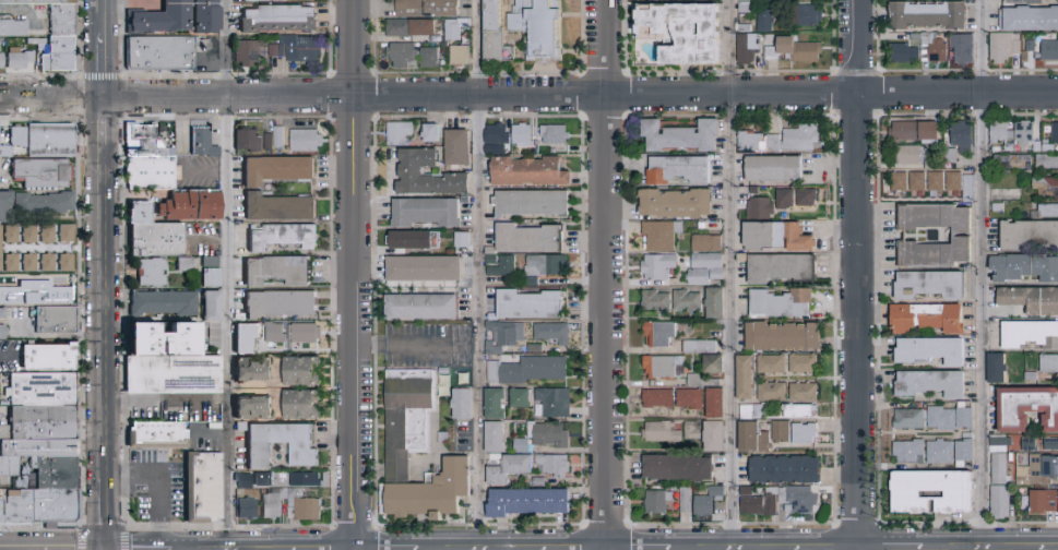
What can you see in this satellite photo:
building: (751, 0)
building: (258, 1)
building: (282, 1)
building: (744, 7)
building: (429, 9)
building: (55, 14)
building: (809, 15)
building: (927, 15)
road: (104, 17)
building: (179, 19)
building: (1029, 19)
building: (281, 21)
building: (766, 21)
building: (538, 26)
building: (412, 28)
building: (14, 29)
building: (456, 29)
building: (746, 29)
building: (680, 31)
building: (497, 35)
building: (40, 45)
building: (961, 47)
building: (1002, 47)
building: (932, 48)
building: (749, 49)
building: (1048, 49)
building: (0, 50)
building: (301, 50)
building: (796, 51)
building: (275, 52)
building: (903, 52)
building: (249, 53)
building: (162, 55)
building: (404, 55)
building: (61, 56)
building: (461, 56)
building: (430, 58)
building: (21, 60)
building: (2, 62)
road: (213, 63)
road: (105, 67)
road: (528, 97)
building: (913, 129)
building: (1023, 131)
road: (106, 132)
building: (1000, 132)
building: (1054, 132)
building: (401, 133)
building: (432, 134)
building: (961, 134)
building: (498, 135)
building: (557, 135)
building: (20, 136)
building: (682, 136)
building: (281, 137)
building: (266, 140)
building: (525, 140)
building: (762, 140)
building: (54, 141)
building: (150, 141)
building: (249, 141)
building: (308, 141)
building: (271, 142)
building: (204, 143)
building: (460, 148)
building: (5, 151)
building: (497, 151)
building: (911, 154)
building: (1046, 160)
building: (776, 169)
building: (280, 170)
building: (681, 170)
building: (412, 171)
building: (532, 172)
building: (44, 174)
building: (152, 174)
building: (897, 180)
building: (916, 180)
building: (935, 180)
building: (952, 180)
building: (1044, 184)
building: (747, 192)
building: (808, 198)
building: (786, 200)
building: (47, 203)
building: (5, 204)
building: (533, 204)
building: (677, 204)
building: (192, 206)
building: (280, 207)
building: (762, 210)
building: (1047, 210)
building: (428, 213)
building: (1027, 231)
building: (154, 234)
building: (13, 235)
building: (32, 235)
building: (49, 235)
building: (68, 235)
building: (664, 236)
building: (284, 237)
building: (780, 237)
building: (960, 237)
building: (532, 239)
building: (407, 241)
building: (463, 241)
building: (708, 243)
building: (0, 249)
building: (441, 250)
building: (492, 251)
building: (744, 259)
building: (494, 261)
building: (31, 262)
building: (49, 262)
building: (68, 262)
building: (212, 262)
building: (709, 262)
building: (13, 263)
building: (187, 264)
building: (549, 266)
building: (1024, 266)
building: (659, 267)
building: (506, 268)
building: (426, 270)
building: (784, 270)
building: (280, 271)
building: (152, 273)
road: (478, 274)
road: (730, 274)
road: (227, 275)
road: (355, 275)
road: (606, 275)
road: (858, 275)
road: (985, 275)
building: (705, 277)
building: (213, 278)
building: (534, 283)
building: (928, 283)
building: (36, 294)
building: (1031, 298)
building: (658, 302)
building: (689, 302)
building: (165, 303)
building: (283, 304)
building: (717, 304)
building: (783, 304)
building: (532, 306)
building: (213, 307)
building: (424, 308)
building: (3, 314)
building: (926, 316)
building: (59, 320)
road: (106, 323)
building: (3, 333)
building: (277, 333)
building: (1029, 333)
building: (307, 334)
building: (508, 334)
building: (555, 334)
building: (662, 335)
building: (248, 337)
building: (785, 338)
road: (416, 345)
building: (701, 348)
building: (930, 348)
building: (494, 349)
building: (536, 349)
building: (51, 357)
building: (170, 361)
building: (1048, 362)
building: (805, 364)
building: (715, 366)
building: (773, 366)
building: (995, 367)
building: (666, 368)
building: (255, 370)
building: (530, 371)
building: (305, 372)
building: (747, 378)
building: (465, 380)
building: (448, 381)
building: (703, 382)
building: (930, 382)
building: (45, 393)
building: (773, 393)
building: (805, 393)
building: (447, 395)
building: (522, 399)
building: (659, 399)
building: (692, 399)
building: (555, 404)
building: (717, 405)
building: (304, 406)
building: (497, 406)
building: (1026, 406)
building: (255, 409)
building: (464, 410)
building: (752, 412)
building: (798, 412)
building: (907, 417)
building: (949, 417)
building: (40, 427)
building: (242, 427)
building: (3, 430)
building: (694, 432)
building: (783, 432)
building: (664, 433)
building: (806, 434)
building: (158, 435)
building: (549, 435)
building: (716, 438)
building: (497, 439)
building: (756, 439)
building: (997, 443)
building: (1027, 443)
building: (1050, 443)
building: (523, 446)
building: (261, 447)
building: (963, 449)
building: (907, 450)
building: (38, 451)
building: (938, 451)
building: (418, 452)
building: (555, 466)
building: (998, 467)
building: (680, 469)
building: (1037, 469)
building: (511, 470)
building: (787, 471)
building: (40, 476)
building: (265, 478)
building: (306, 480)
building: (247, 481)
building: (539, 483)
road: (161, 486)
building: (204, 488)
building: (930, 489)
building: (748, 492)
building: (717, 493)
building: (784, 498)
building: (805, 500)
building: (1043, 500)
building: (998, 501)
building: (668, 502)
building: (530, 503)
building: (273, 505)
building: (762, 505)
building: (302, 506)
building: (704, 507)
building: (56, 510)
building: (249, 510)
building: (2, 511)
building: (20, 513)
road: (107, 515)
road: (608, 547)
road: (480, 549)

